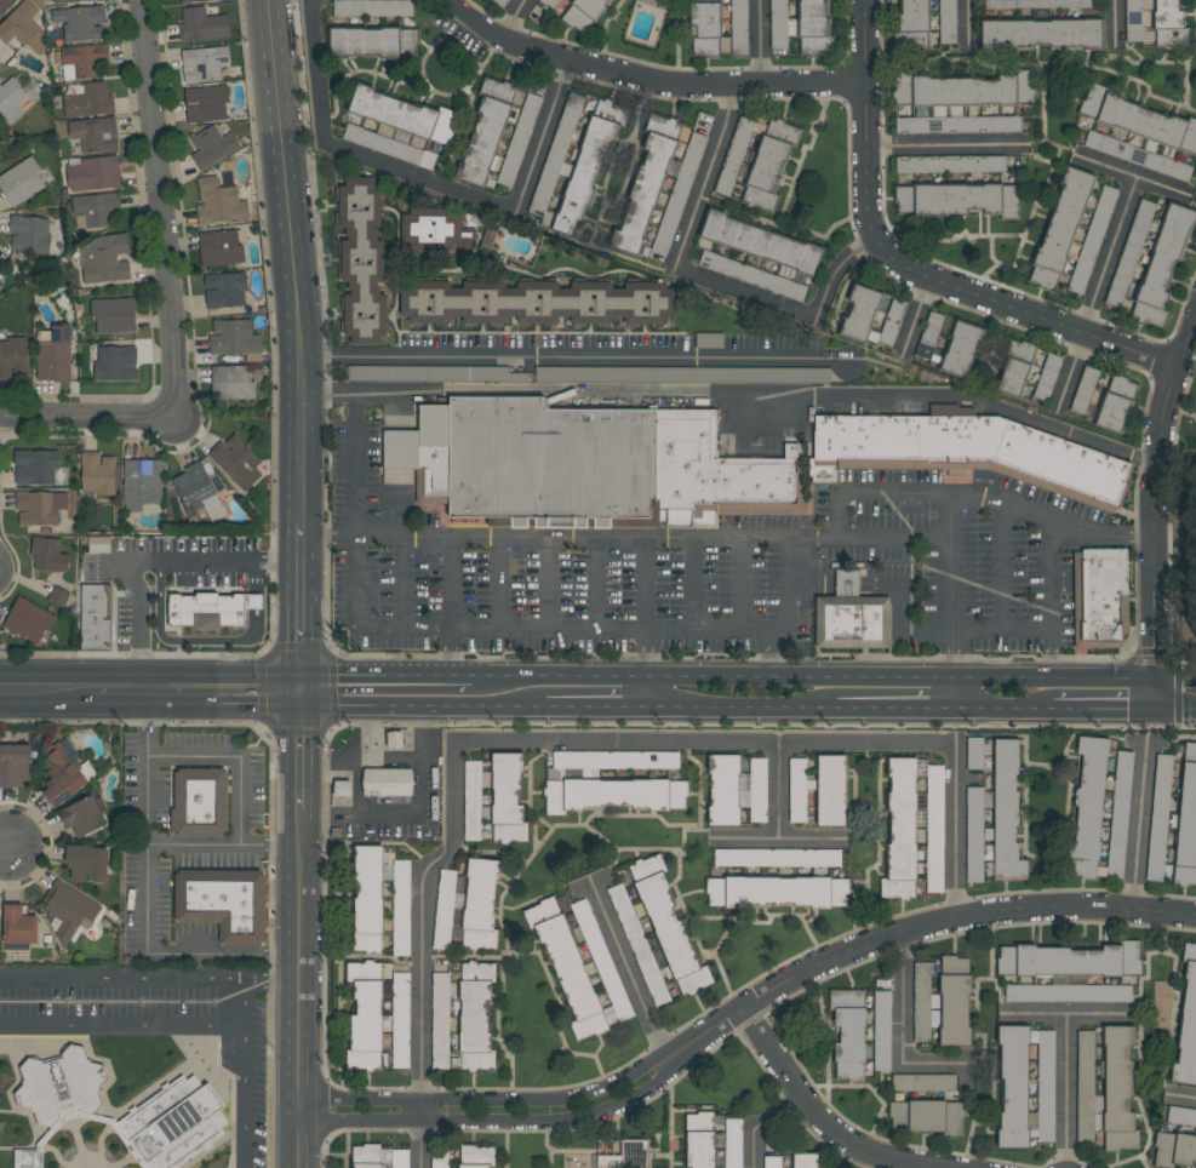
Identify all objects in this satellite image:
building: (99, 0)
building: (190, 0)
building: (68, 1)
building: (499, 2)
building: (549, 2)
building: (1037, 4)
building: (5, 5)
building: (372, 7)
building: (583, 15)
road: (515, 18)
building: (81, 22)
building: (946, 22)
building: (911, 23)
road: (966, 23)
road: (1114, 23)
building: (202, 24)
building: (1168, 24)
building: (738, 27)
building: (800, 27)
building: (23, 28)
building: (704, 29)
building: (1038, 34)
road: (507, 39)
building: (372, 42)
road: (761, 44)
building: (84, 61)
building: (204, 63)
road: (716, 85)
building: (966, 90)
building: (11, 99)
building: (88, 101)
building: (207, 104)
building: (1137, 119)
building: (957, 125)
building: (399, 128)
building: (483, 132)
building: (96, 134)
building: (519, 141)
road: (940, 145)
building: (212, 147)
building: (1135, 155)
building: (733, 156)
building: (555, 160)
building: (768, 162)
building: (950, 164)
building: (93, 173)
building: (583, 177)
road: (429, 178)
road: (287, 179)
building: (22, 181)
building: (645, 184)
road: (1160, 188)
building: (65, 193)
building: (679, 194)
building: (956, 200)
building: (218, 202)
road: (160, 207)
building: (95, 208)
road: (1117, 224)
building: (1059, 228)
building: (434, 233)
building: (30, 234)
building: (1092, 240)
building: (759, 242)
building: (219, 248)
building: (1129, 253)
building: (104, 259)
building: (361, 260)
building: (1162, 265)
road: (904, 269)
building: (0, 273)
building: (754, 276)
road: (702, 277)
building: (224, 290)
building: (536, 303)
road: (915, 314)
building: (113, 315)
building: (872, 316)
road: (1194, 317)
building: (928, 334)
building: (233, 338)
building: (960, 349)
building: (55, 356)
building: (12, 357)
road: (577, 357)
building: (114, 363)
building: (1014, 368)
building: (428, 373)
building: (682, 374)
road: (304, 377)
building: (1046, 377)
building: (231, 383)
building: (1083, 390)
road: (943, 397)
building: (1115, 403)
road: (88, 414)
building: (966, 453)
building: (235, 462)
building: (585, 465)
building: (35, 466)
building: (97, 474)
building: (141, 483)
building: (193, 486)
road: (1152, 491)
building: (35, 508)
road: (356, 531)
road: (404, 537)
road: (330, 538)
road: (566, 538)
building: (97, 544)
road: (302, 544)
park: (1186, 552)
building: (48, 555)
road: (153, 557)
road: (113, 567)
road: (405, 582)
road: (549, 583)
road: (596, 583)
road: (645, 583)
road: (694, 583)
road: (744, 583)
road: (503, 584)
road: (950, 589)
building: (57, 596)
building: (1098, 596)
building: (210, 609)
building: (95, 616)
building: (849, 616)
building: (28, 620)
road: (1018, 632)
road: (768, 653)
road: (452, 654)
road: (1051, 655)
road: (646, 668)
road: (952, 669)
road: (802, 677)
road: (1173, 679)
road: (374, 680)
road: (47, 692)
road: (198, 693)
traffic signals: (301, 694)
road: (1151, 694)
road: (380, 705)
road: (496, 705)
road: (586, 705)
road: (737, 706)
road: (891, 706)
road: (1002, 708)
road: (1100, 708)
traffic signals: (1151, 709)
road: (1173, 709)
road: (571, 740)
building: (973, 752)
road: (235, 754)
road: (355, 758)
road: (361, 758)
building: (610, 760)
building: (13, 765)
building: (61, 777)
building: (387, 781)
building: (339, 789)
building: (734, 789)
building: (795, 789)
building: (829, 790)
building: (603, 794)
building: (677, 795)
building: (471, 798)
building: (505, 800)
building: (199, 801)
building: (1086, 807)
building: (1003, 812)
building: (1117, 813)
road: (413, 814)
road: (780, 814)
building: (81, 817)
building: (1157, 818)
building: (1186, 820)
road: (1140, 824)
building: (933, 828)
building: (899, 831)
building: (973, 836)
road: (812, 838)
road: (148, 843)
road: (5, 851)
building: (776, 858)
building: (85, 864)
building: (776, 892)
building: (446, 894)
building: (366, 899)
building: (222, 901)
building: (477, 904)
building: (399, 906)
building: (68, 910)
building: (666, 926)
road: (916, 926)
building: (17, 928)
road: (302, 931)
building: (636, 943)
road: (167, 952)
building: (1069, 960)
building: (601, 963)
building: (565, 967)
road: (630, 973)
road: (286, 978)
road: (135, 979)
building: (1066, 992)
building: (920, 1000)
building: (952, 1001)
building: (399, 1006)
road: (1070, 1012)
building: (881, 1015)
building: (439, 1020)
parking lot: (153, 1021)
building: (474, 1023)
building: (1186, 1023)
road: (121, 1026)
building: (364, 1026)
building: (847, 1032)
road: (906, 1038)
road: (245, 1066)
building: (923, 1082)
building: (1043, 1083)
building: (59, 1086)
building: (1012, 1086)
road: (1070, 1089)
building: (1104, 1089)
road: (1186, 1095)
road: (490, 1098)
road: (818, 1115)
building: (925, 1116)
building: (1180, 1116)
road: (497, 1120)
building: (171, 1123)
road: (760, 1123)
building: (698, 1149)
building: (1173, 1150)
building: (439, 1153)
building: (630, 1153)
building: (365, 1156)
building: (475, 1156)
building: (27, 1158)
building: (400, 1158)
building: (805, 1161)
building: (772, 1162)

